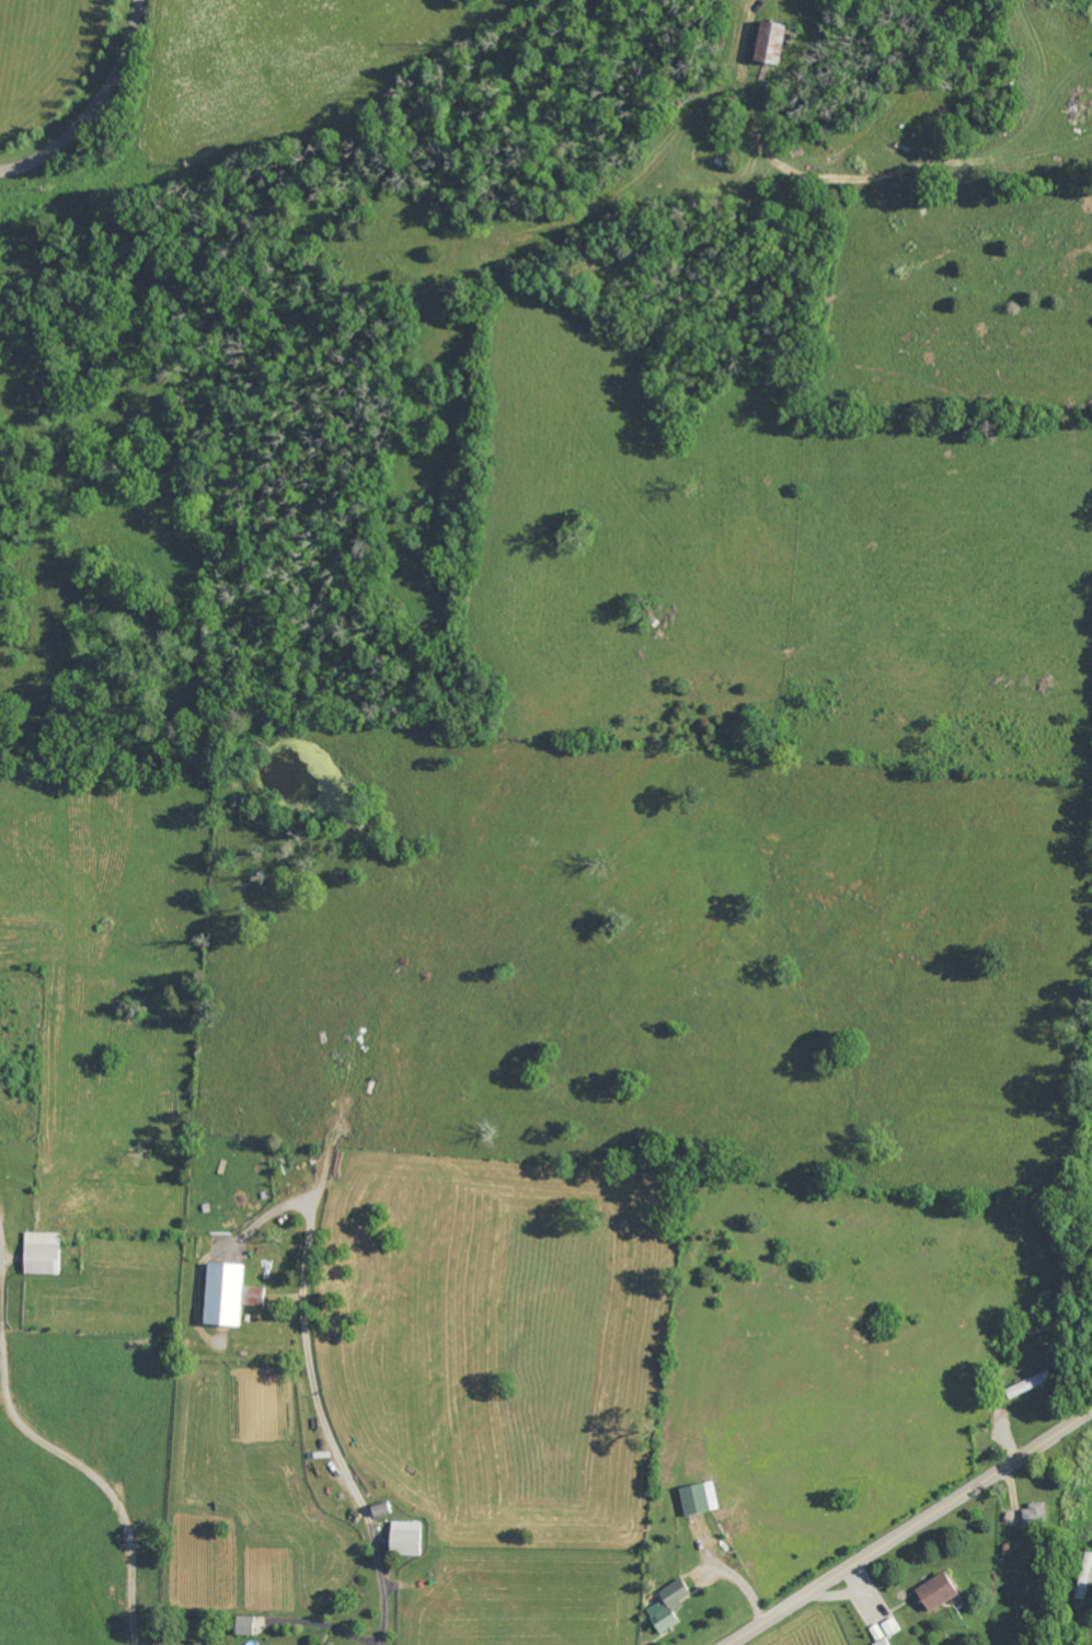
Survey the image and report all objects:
building: (769, 43)
road: (93, 103)
building: (42, 1253)
building: (229, 1293)
road: (315, 1390)
road: (46, 1472)
building: (700, 1498)
building: (380, 1509)
building: (1034, 1515)
road: (909, 1528)
building: (404, 1539)
building: (1084, 1578)
building: (936, 1591)
building: (668, 1606)
building: (243, 1625)
building: (892, 1626)
building: (877, 1632)
building: (884, 1642)

